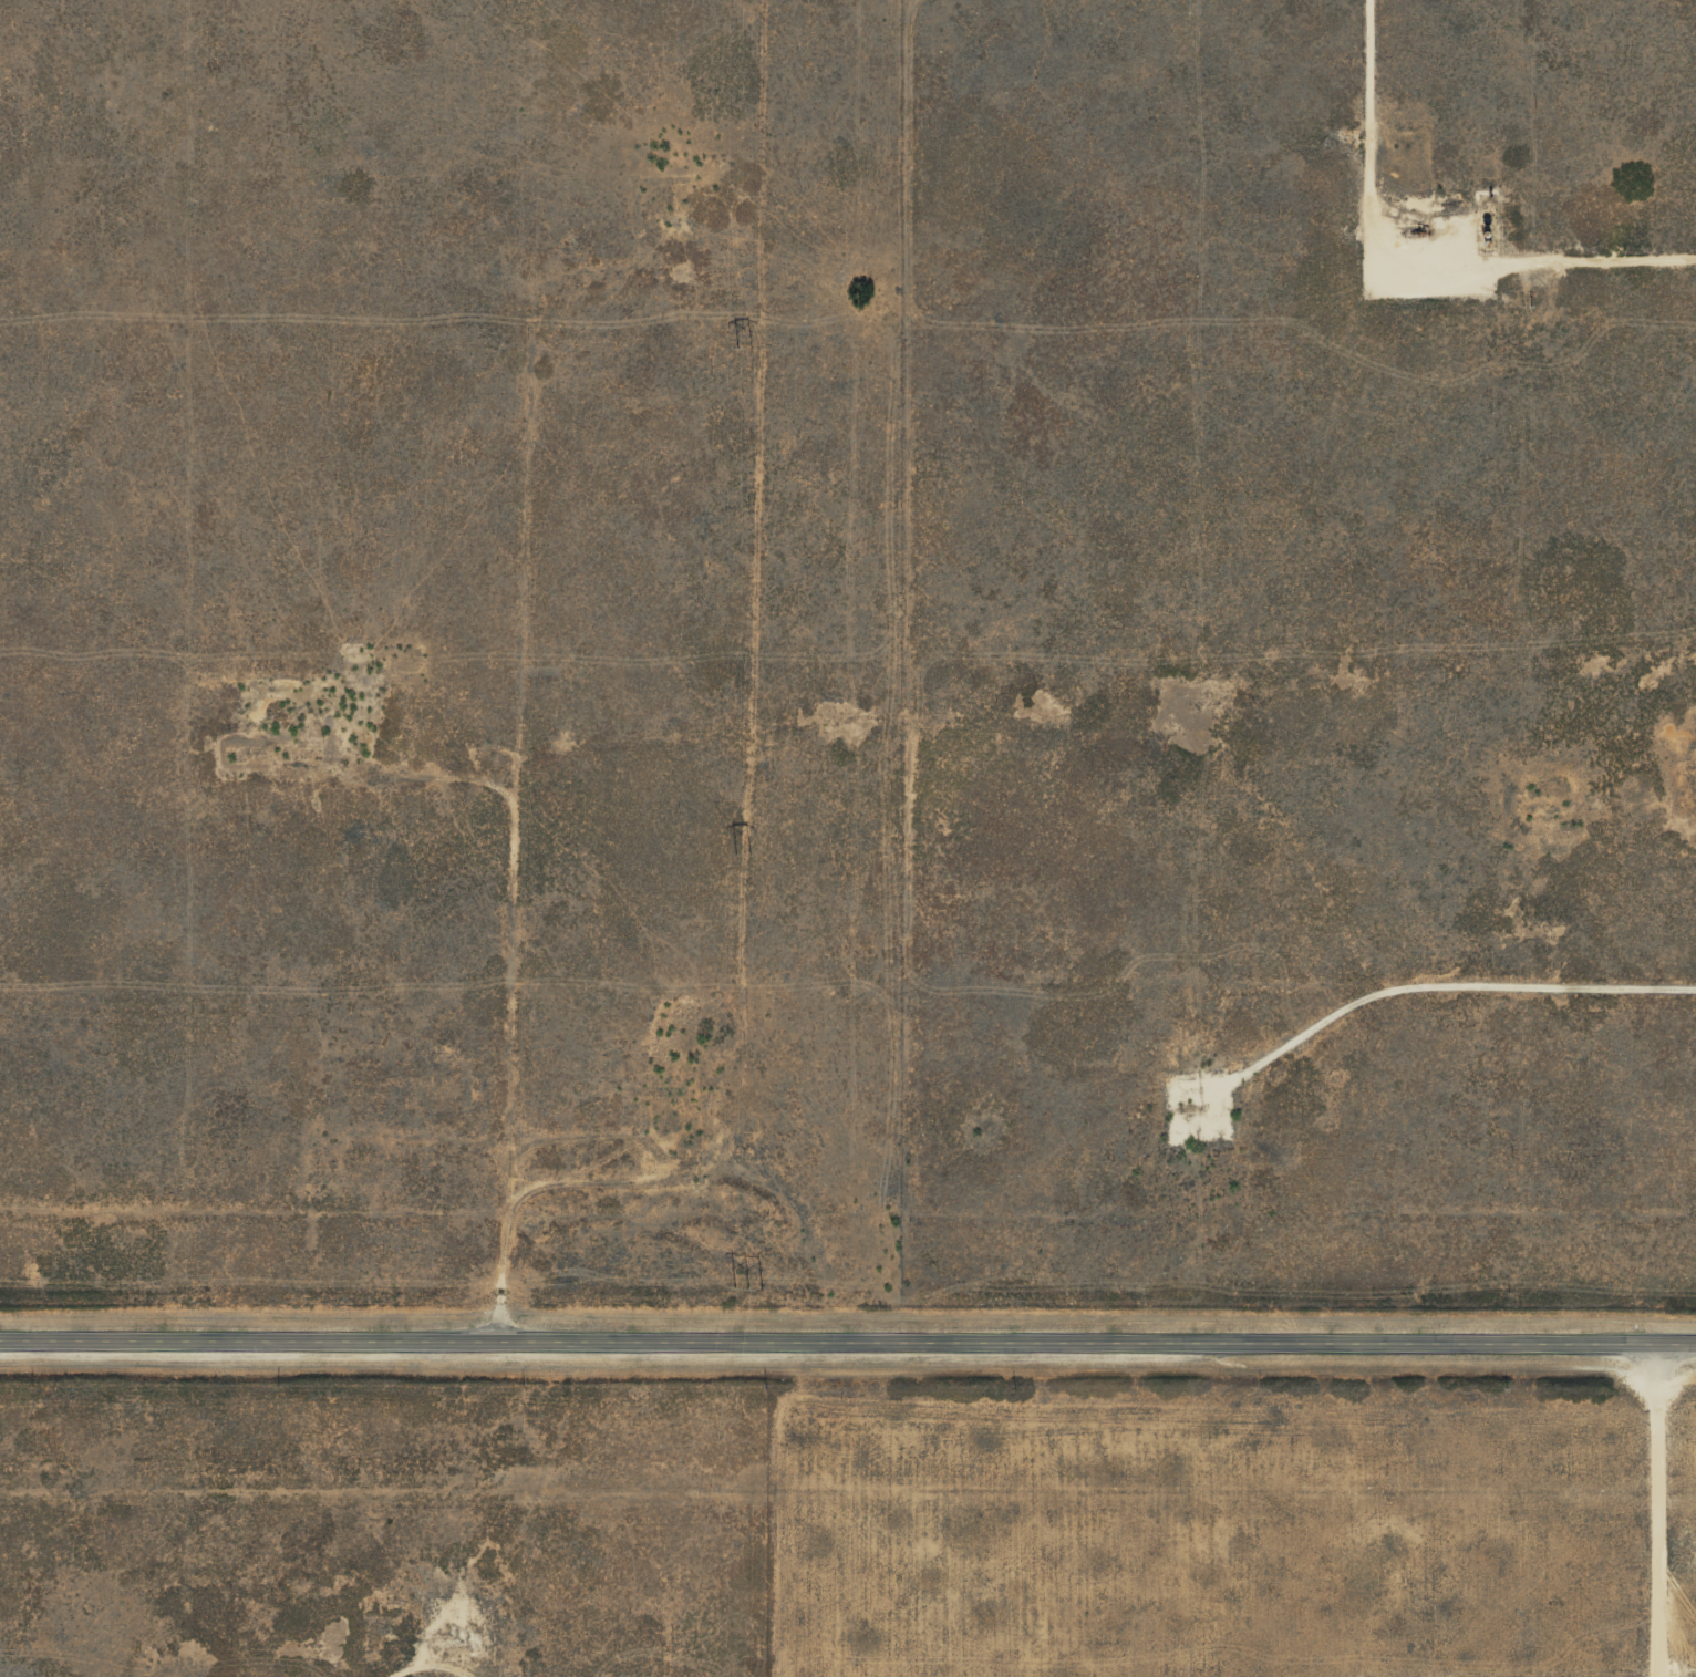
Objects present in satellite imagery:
power tower: (747, 346)
power tower: (745, 849)
road: (1454, 973)
power tower: (752, 1284)
road: (848, 1334)
road: (1665, 1505)
road: (404, 1675)

